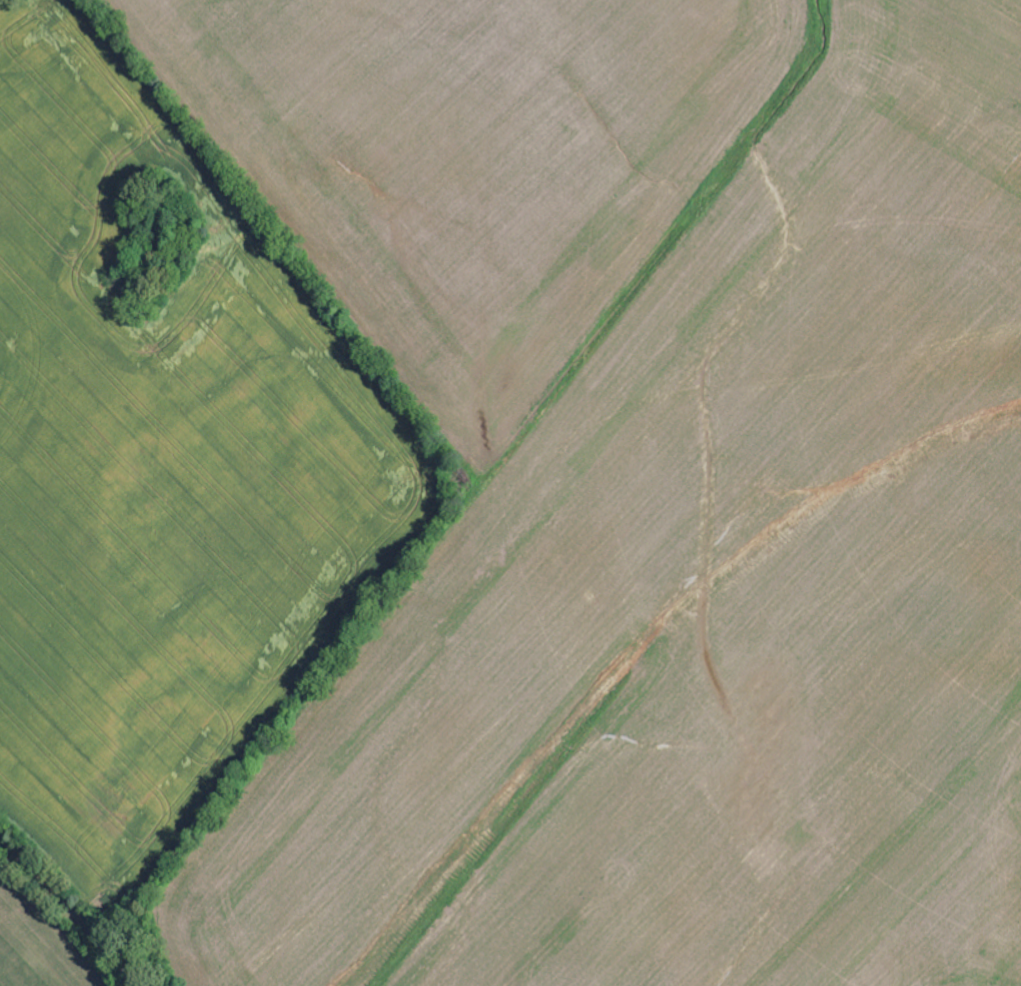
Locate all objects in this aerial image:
road: (67, 915)

